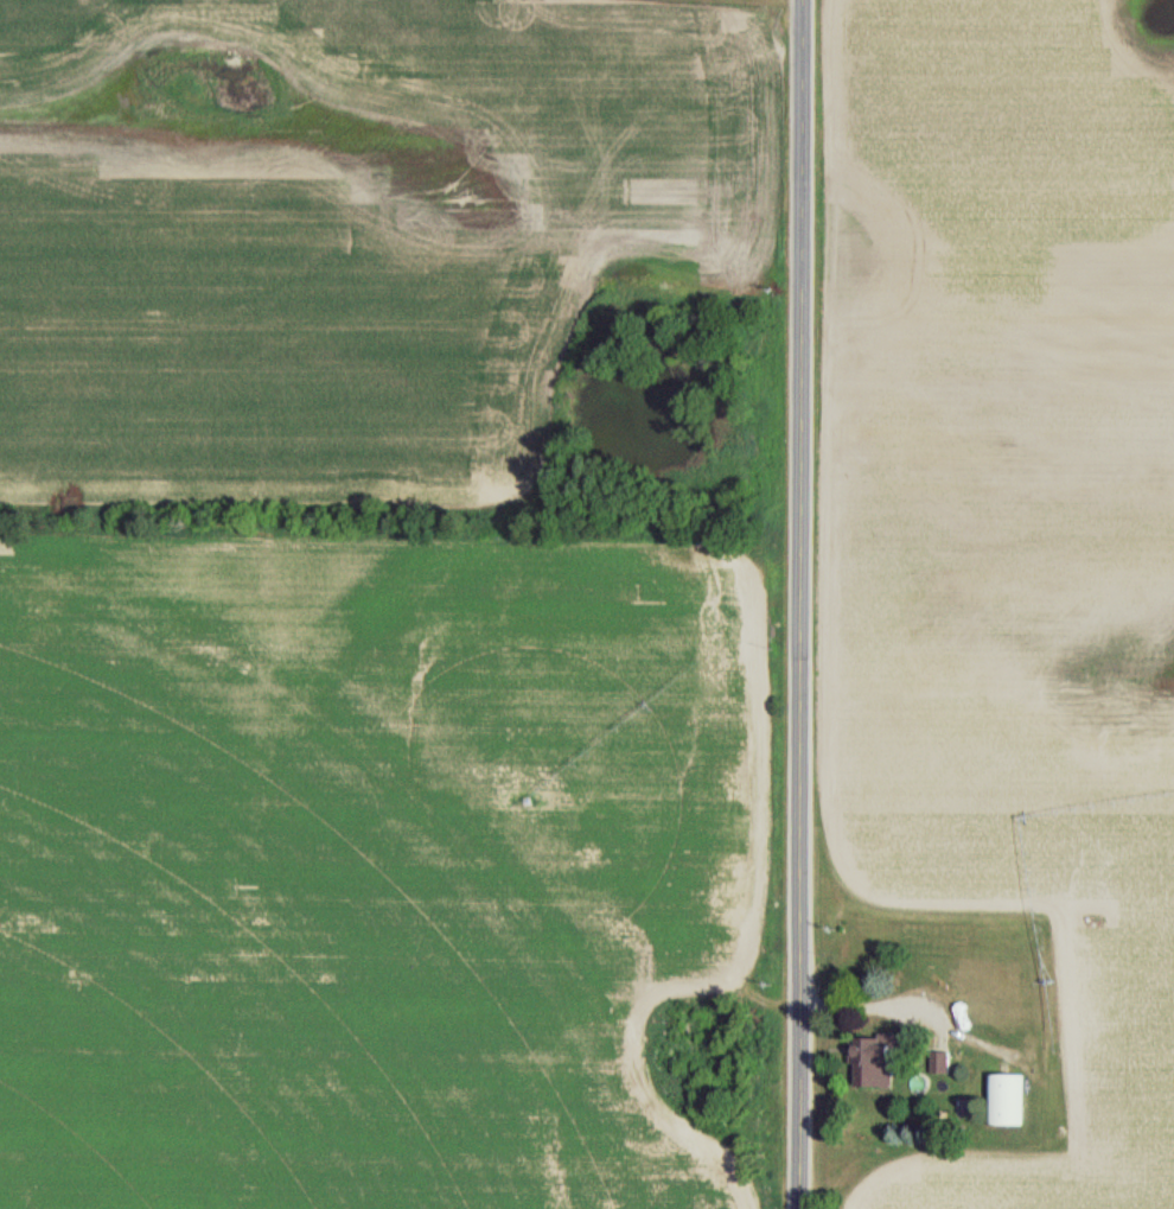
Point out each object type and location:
road: (799, 604)
road: (895, 1012)
building: (866, 1052)
building: (936, 1064)
building: (1001, 1100)

